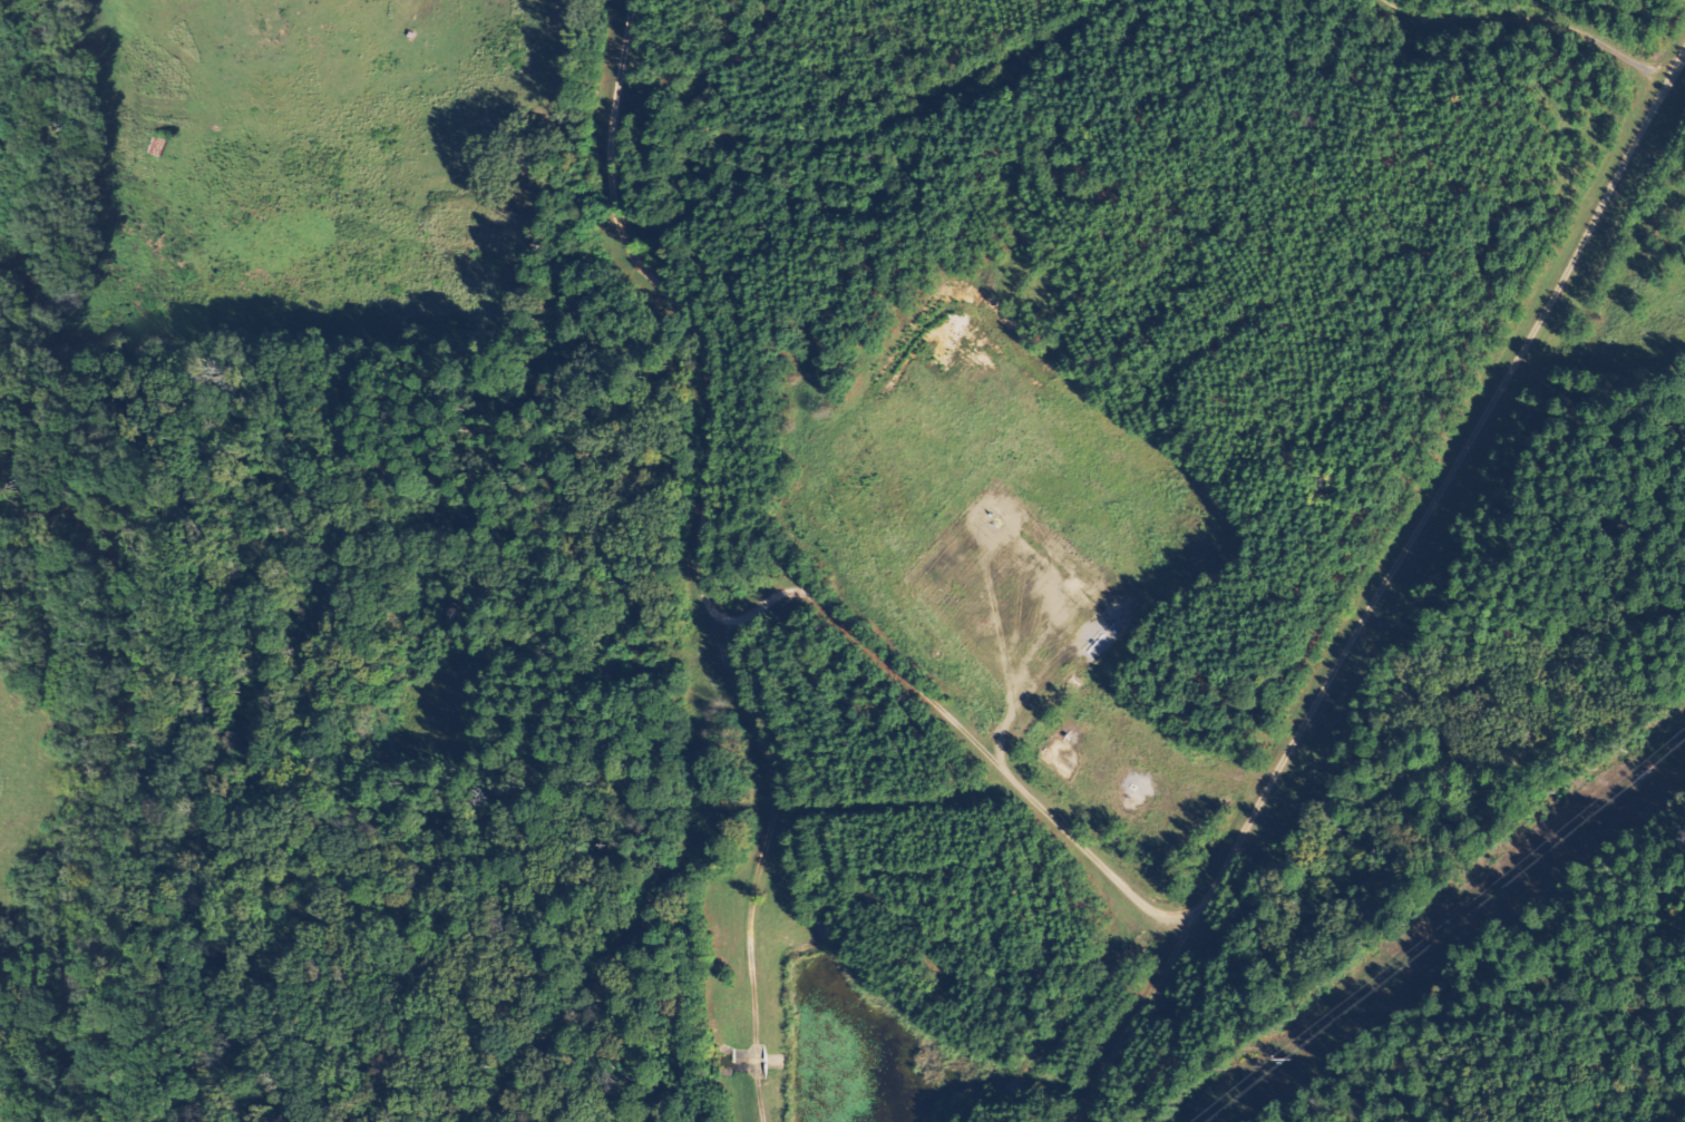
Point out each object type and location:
power tower: (1293, 1055)

